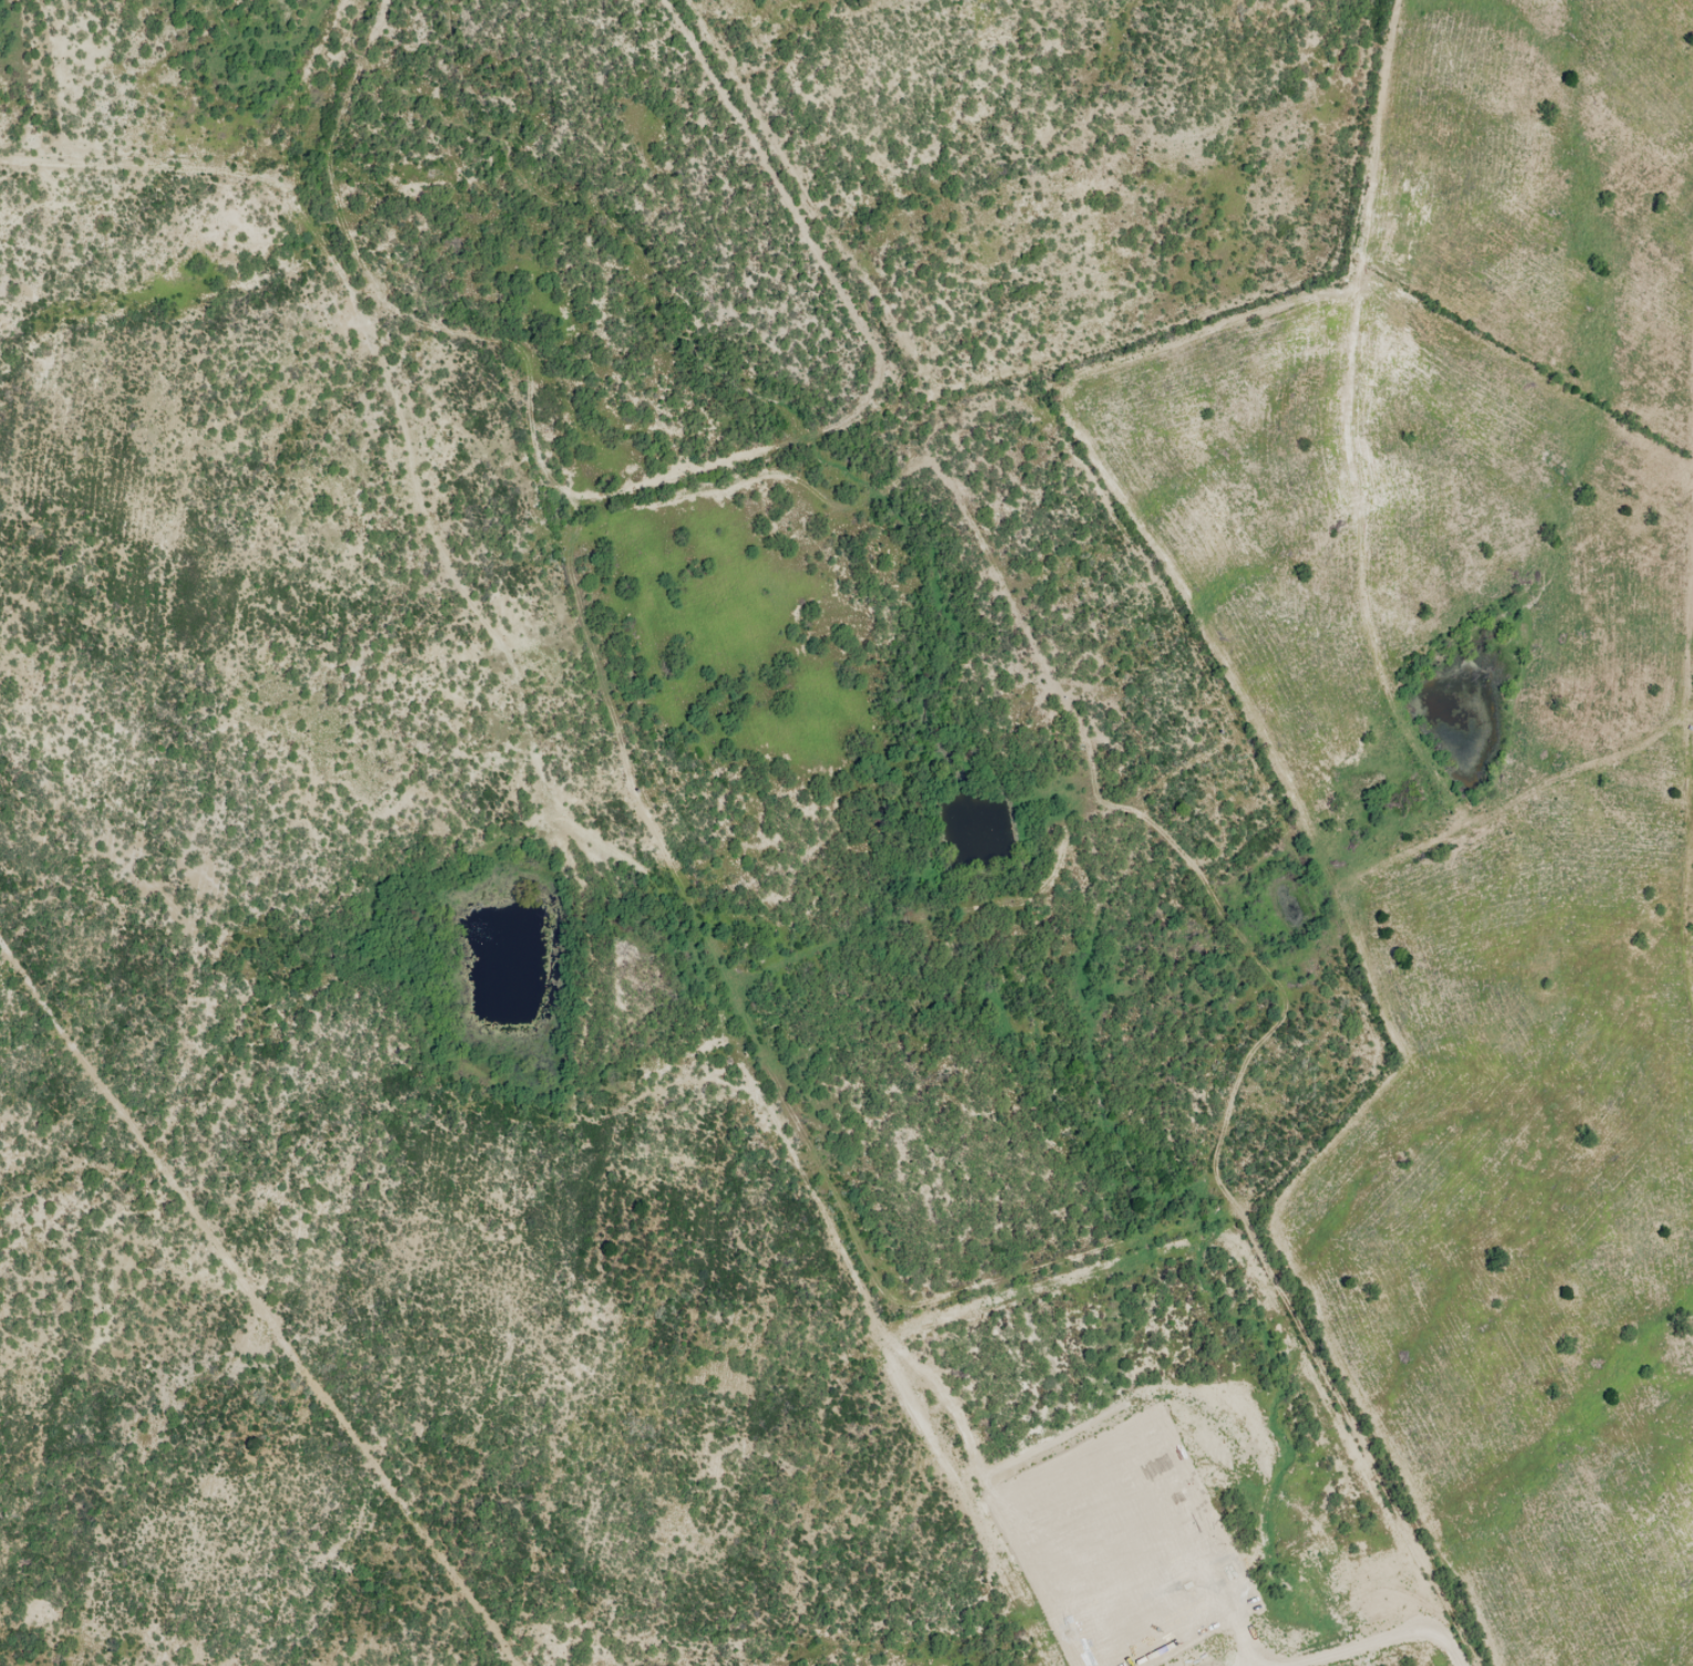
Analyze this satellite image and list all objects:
road: (1296, 10)
road: (241, 164)
road: (981, 353)
road: (638, 931)

